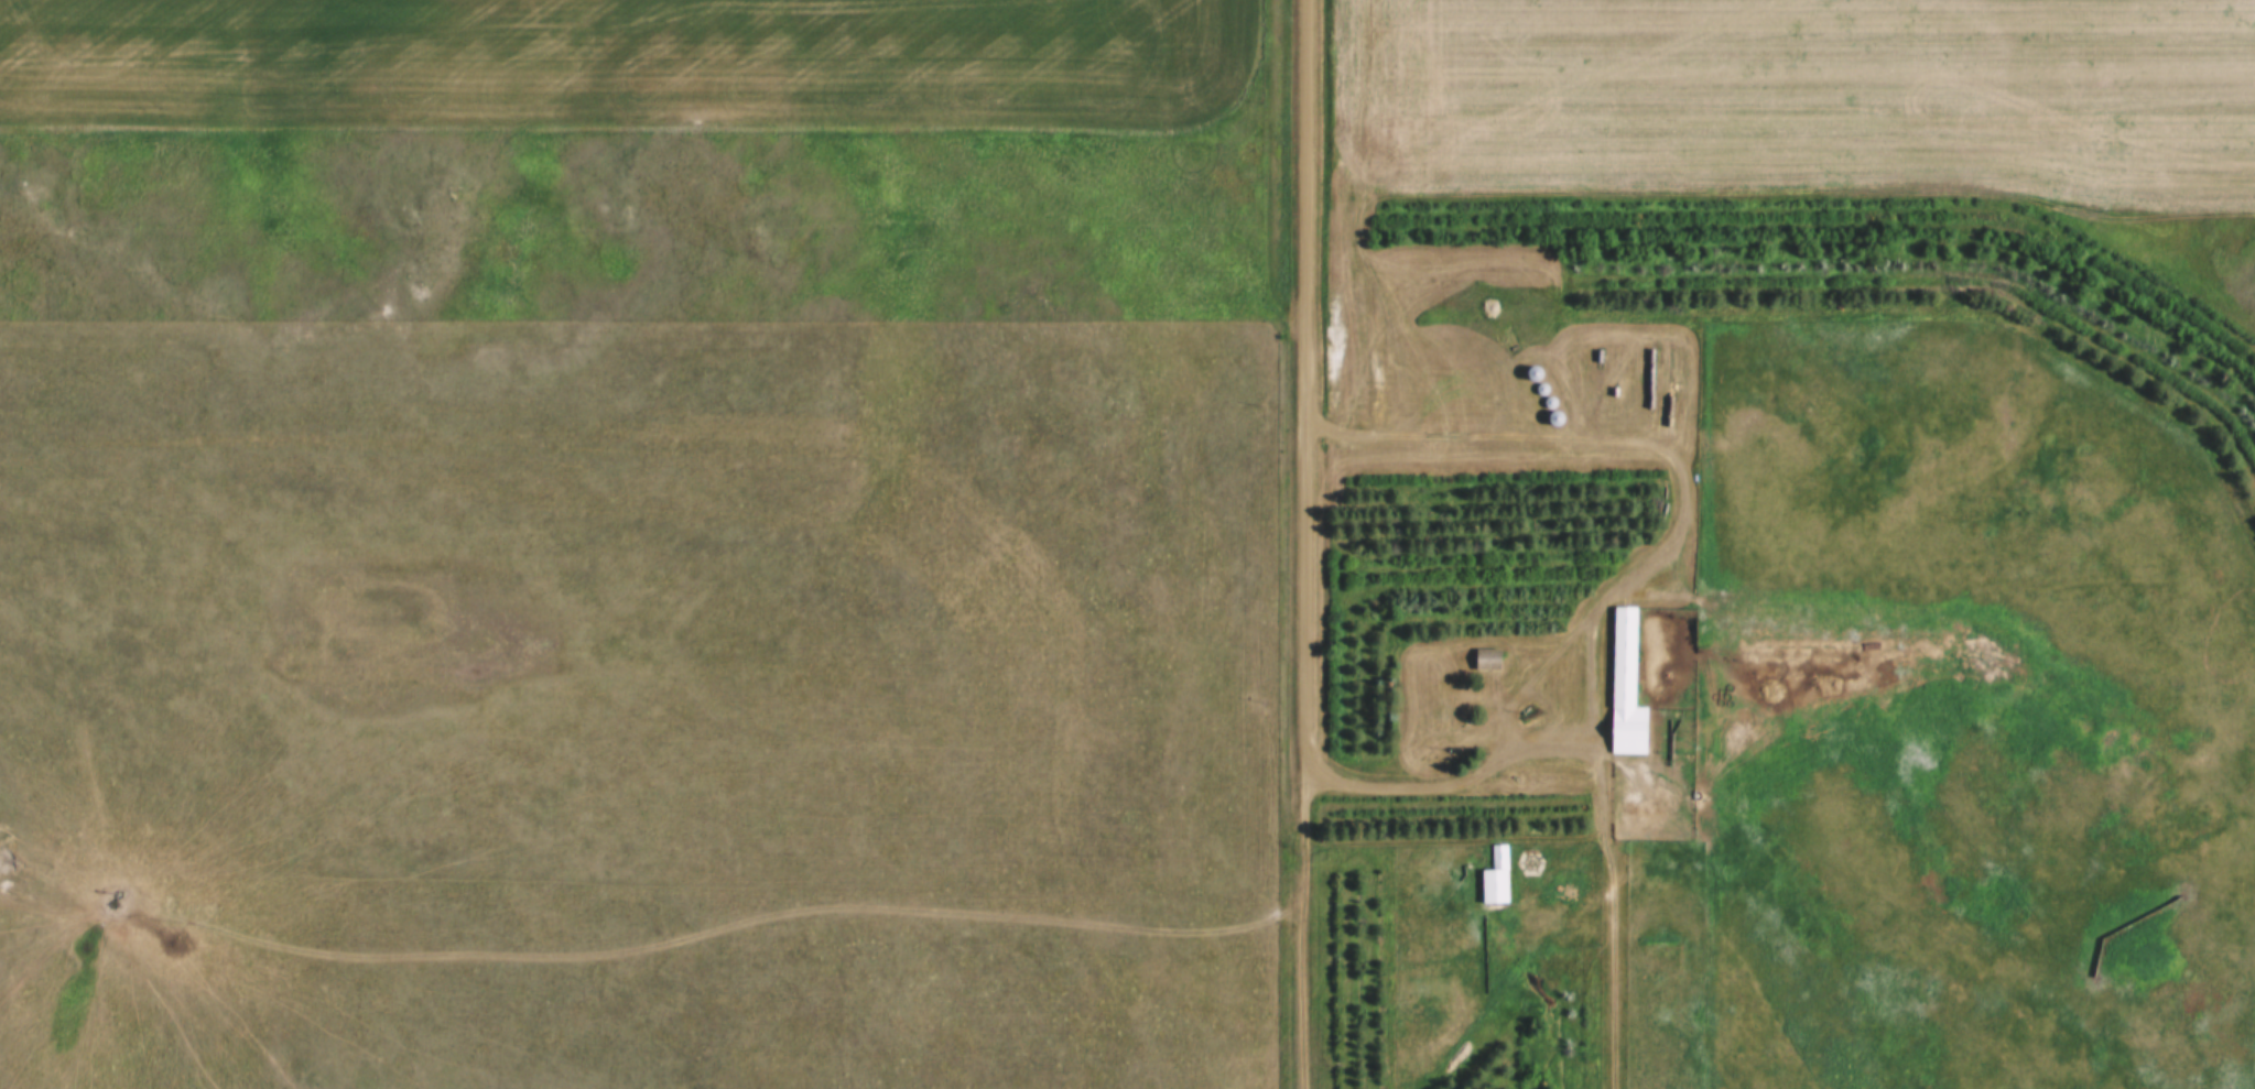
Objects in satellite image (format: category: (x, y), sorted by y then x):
road: (1308, 390)
road: (1559, 661)
building: (1488, 662)
building: (1626, 688)
road: (1612, 871)
building: (1496, 879)
road: (1295, 934)

